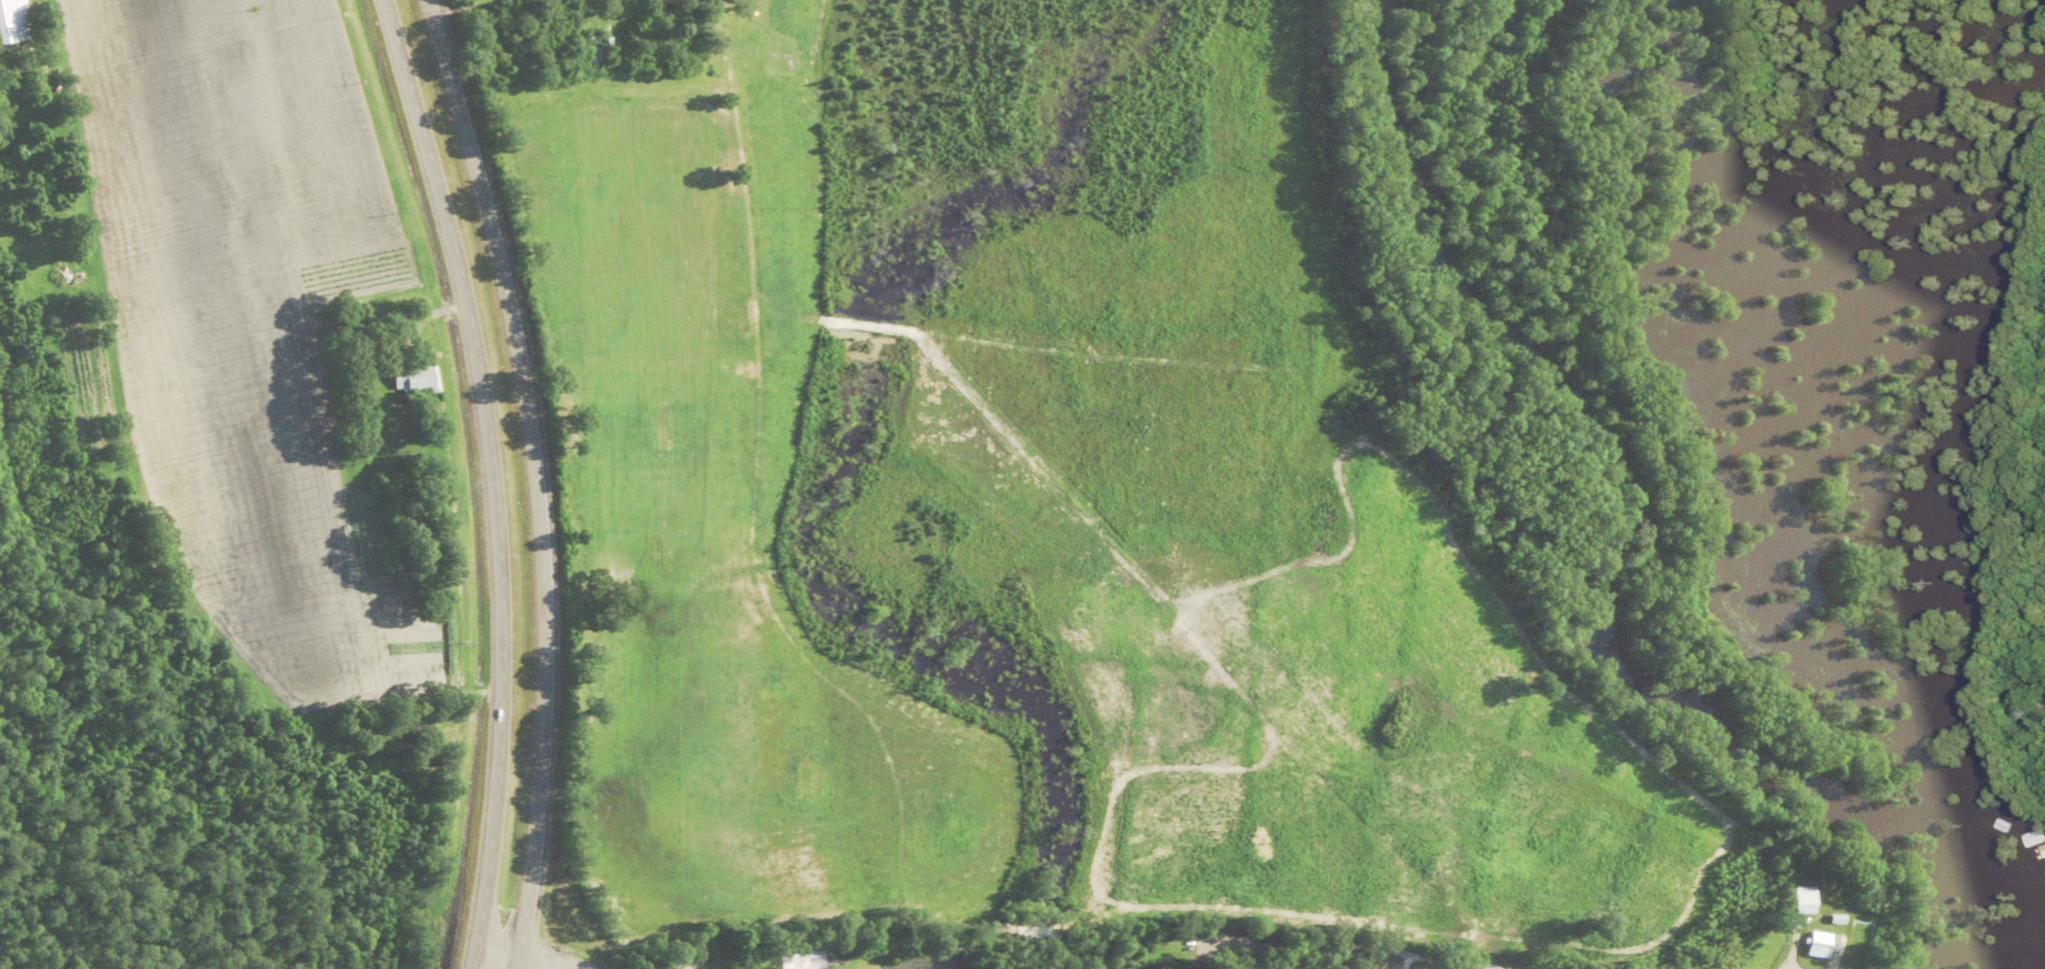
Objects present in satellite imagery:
road: (491, 479)
road: (535, 479)
building: (1796, 899)
road: (1379, 942)
building: (1813, 943)
road: (532, 948)
road: (1830, 966)

